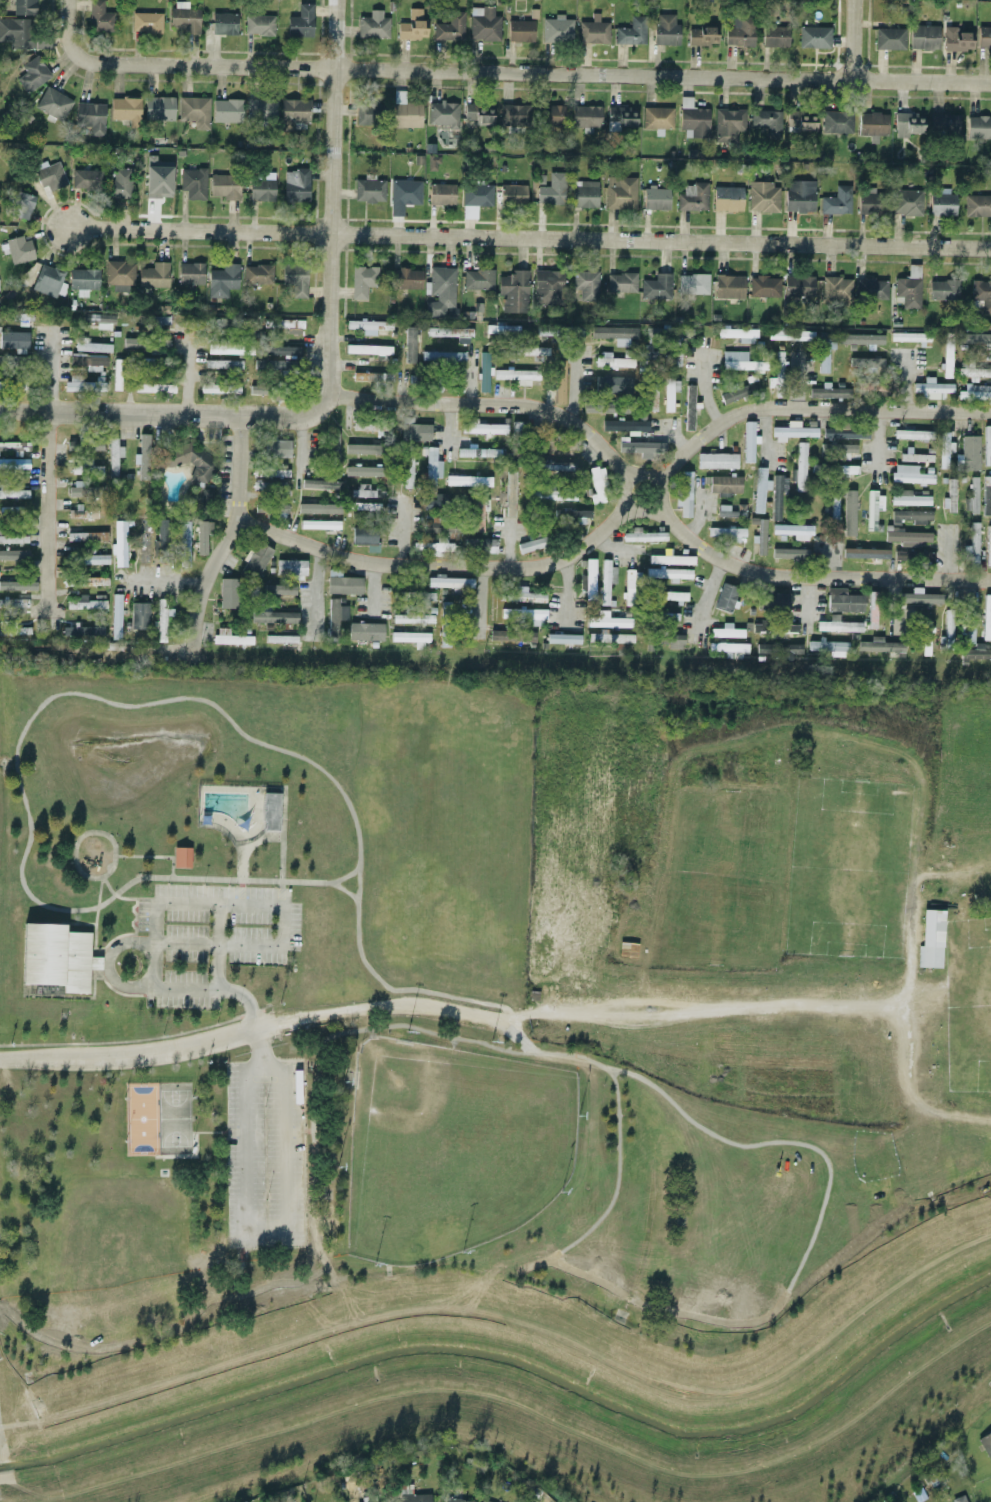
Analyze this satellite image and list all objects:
building: (23, 7)
building: (100, 17)
building: (184, 18)
building: (146, 22)
building: (301, 22)
building: (224, 23)
building: (259, 24)
building: (483, 24)
building: (373, 25)
building: (413, 26)
building: (450, 28)
building: (557, 29)
building: (666, 30)
building: (520, 31)
building: (594, 31)
building: (16, 32)
building: (631, 32)
building: (740, 32)
building: (702, 36)
building: (775, 37)
building: (814, 37)
building: (923, 37)
building: (984, 37)
building: (889, 39)
building: (956, 39)
road: (848, 40)
road: (501, 73)
building: (32, 74)
building: (53, 103)
building: (159, 107)
building: (261, 108)
building: (126, 109)
building: (227, 110)
building: (194, 111)
building: (294, 112)
building: (368, 112)
building: (442, 114)
building: (479, 114)
building: (554, 114)
building: (407, 115)
building: (513, 115)
building: (90, 116)
building: (585, 117)
building: (620, 118)
building: (657, 118)
building: (693, 119)
building: (800, 121)
building: (767, 122)
building: (836, 122)
building: (728, 124)
building: (873, 124)
building: (908, 124)
building: (944, 124)
building: (977, 127)
building: (50, 175)
building: (158, 178)
building: (86, 179)
building: (120, 182)
building: (193, 183)
building: (296, 185)
building: (224, 186)
building: (261, 190)
building: (369, 190)
building: (552, 190)
building: (620, 193)
building: (441, 194)
building: (584, 194)
building: (403, 195)
building: (477, 195)
building: (799, 196)
building: (763, 197)
building: (655, 198)
building: (692, 198)
building: (727, 198)
road: (330, 200)
building: (836, 201)
building: (867, 202)
building: (907, 202)
building: (942, 203)
building: (23, 205)
building: (977, 205)
road: (528, 238)
building: (19, 249)
building: (191, 273)
building: (257, 274)
building: (118, 275)
building: (154, 275)
building: (295, 279)
building: (478, 279)
building: (49, 280)
building: (83, 280)
building: (222, 280)
building: (362, 280)
building: (621, 283)
building: (586, 284)
building: (693, 284)
building: (729, 286)
building: (764, 286)
building: (799, 286)
building: (547, 287)
building: (656, 287)
building: (909, 288)
building: (836, 289)
building: (871, 289)
building: (514, 290)
building: (943, 290)
building: (440, 291)
building: (981, 294)
building: (104, 319)
building: (160, 320)
building: (368, 326)
building: (450, 333)
building: (615, 334)
building: (739, 335)
building: (790, 335)
building: (911, 338)
building: (974, 338)
building: (14, 339)
building: (860, 339)
building: (131, 342)
building: (410, 344)
building: (83, 346)
building: (224, 347)
building: (368, 349)
building: (533, 350)
building: (824, 350)
building: (282, 351)
building: (443, 357)
building: (946, 357)
building: (87, 359)
building: (603, 359)
building: (150, 362)
building: (740, 362)
building: (865, 363)
building: (223, 365)
building: (277, 366)
building: (92, 368)
building: (483, 371)
road: (49, 373)
road: (188, 373)
building: (777, 373)
building: (974, 373)
building: (117, 374)
building: (372, 376)
building: (559, 382)
road: (904, 382)
building: (82, 384)
road: (573, 386)
road: (704, 387)
building: (147, 388)
building: (219, 388)
building: (932, 389)
building: (257, 390)
building: (741, 391)
building: (669, 392)
building: (829, 392)
building: (975, 394)
building: (689, 407)
road: (167, 416)
building: (370, 425)
building: (624, 425)
building: (483, 428)
building: (517, 428)
building: (794, 430)
building: (416, 432)
building: (845, 432)
building: (913, 434)
road: (676, 436)
building: (749, 442)
building: (10, 445)
building: (280, 445)
building: (987, 445)
building: (333, 447)
building: (641, 447)
building: (362, 449)
building: (944, 449)
building: (557, 450)
building: (838, 451)
building: (478, 452)
building: (970, 452)
building: (113, 455)
building: (143, 456)
building: (915, 457)
building: (717, 460)
building: (193, 461)
building: (13, 463)
building: (431, 466)
building: (800, 466)
building: (86, 467)
building: (555, 468)
building: (847, 469)
building: (363, 471)
building: (278, 473)
building: (407, 473)
building: (909, 474)
road: (296, 479)
building: (468, 481)
building: (332, 485)
building: (268, 486)
building: (597, 486)
building: (78, 488)
road: (647, 488)
building: (760, 489)
building: (366, 491)
road: (661, 491)
building: (13, 493)
building: (552, 493)
building: (684, 493)
building: (777, 494)
building: (509, 495)
building: (986, 495)
building: (949, 496)
building: (972, 497)
building: (908, 498)
building: (366, 506)
building: (332, 508)
building: (873, 508)
road: (46, 510)
building: (833, 510)
building: (11, 511)
building: (81, 511)
building: (731, 511)
building: (849, 513)
building: (478, 515)
building: (911, 517)
building: (319, 524)
building: (794, 531)
building: (725, 533)
building: (86, 536)
building: (202, 536)
building: (364, 536)
building: (643, 536)
building: (760, 536)
building: (13, 537)
building: (907, 537)
building: (163, 539)
building: (144, 540)
building: (183, 543)
building: (119, 544)
building: (489, 545)
building: (532, 545)
building: (973, 545)
building: (988, 546)
building: (434, 548)
building: (790, 553)
building: (865, 553)
building: (13, 554)
building: (911, 555)
building: (256, 558)
road: (570, 558)
building: (94, 559)
building: (670, 559)
building: (291, 568)
building: (668, 573)
building: (590, 578)
road: (206, 579)
building: (91, 580)
building: (449, 582)
building: (17, 584)
road: (168, 584)
building: (344, 585)
road: (371, 587)
building: (631, 588)
building: (276, 589)
road: (318, 592)
building: (228, 593)
building: (673, 596)
building: (725, 597)
building: (921, 597)
building: (778, 600)
building: (843, 601)
building: (13, 602)
building: (83, 603)
building: (872, 606)
building: (139, 615)
building: (115, 616)
building: (523, 616)
building: (669, 616)
building: (274, 617)
building: (336, 617)
building: (986, 617)
building: (162, 619)
building: (609, 621)
building: (445, 624)
building: (835, 625)
building: (82, 631)
building: (365, 631)
building: (727, 631)
building: (968, 631)
building: (512, 636)
building: (230, 637)
building: (281, 638)
building: (410, 638)
building: (563, 638)
building: (610, 639)
building: (675, 641)
building: (879, 645)
building: (829, 647)
building: (729, 649)
building: (791, 649)
building: (975, 653)
road: (137, 706)
building: (271, 811)
road: (85, 833)
road: (281, 845)
road: (151, 856)
building: (182, 857)
road: (340, 877)
road: (340, 888)
road: (96, 905)
road: (248, 905)
building: (931, 939)
road: (176, 943)
building: (56, 956)
road: (214, 990)
road: (242, 997)
road: (392, 1006)
road: (715, 1012)
park: (337, 1034)
road: (261, 1048)
road: (129, 1053)
road: (546, 1053)
road: (264, 1075)
park: (155, 1119)
road: (213, 1131)
road: (780, 1142)
park: (450, 1148)
road: (290, 1153)
parking lot: (263, 1154)
road: (265, 1155)
road: (239, 1156)
park: (925, 1170)
road: (310, 1174)
road: (265, 1236)
road: (246, 1264)
road: (517, 1269)
road: (179, 1327)
river: (516, 1365)
road: (1, 1427)
building: (986, 1444)
building: (411, 1495)
building: (959, 1499)
building: (455, 1500)
building: (379, 1501)
building: (484, 1501)

